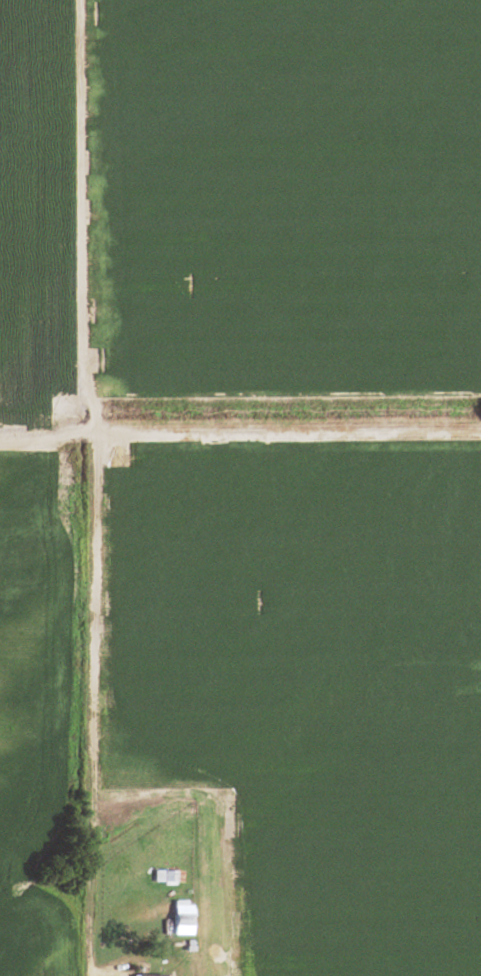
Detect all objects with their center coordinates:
road: (240, 433)
road: (80, 704)
building: (166, 877)
building: (177, 923)
building: (146, 975)

